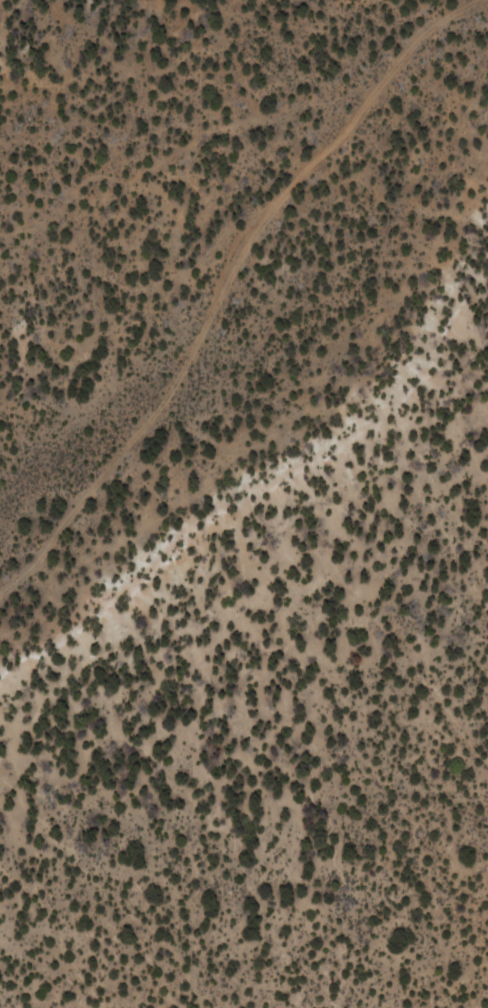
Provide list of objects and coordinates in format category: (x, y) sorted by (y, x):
road: (226, 282)

